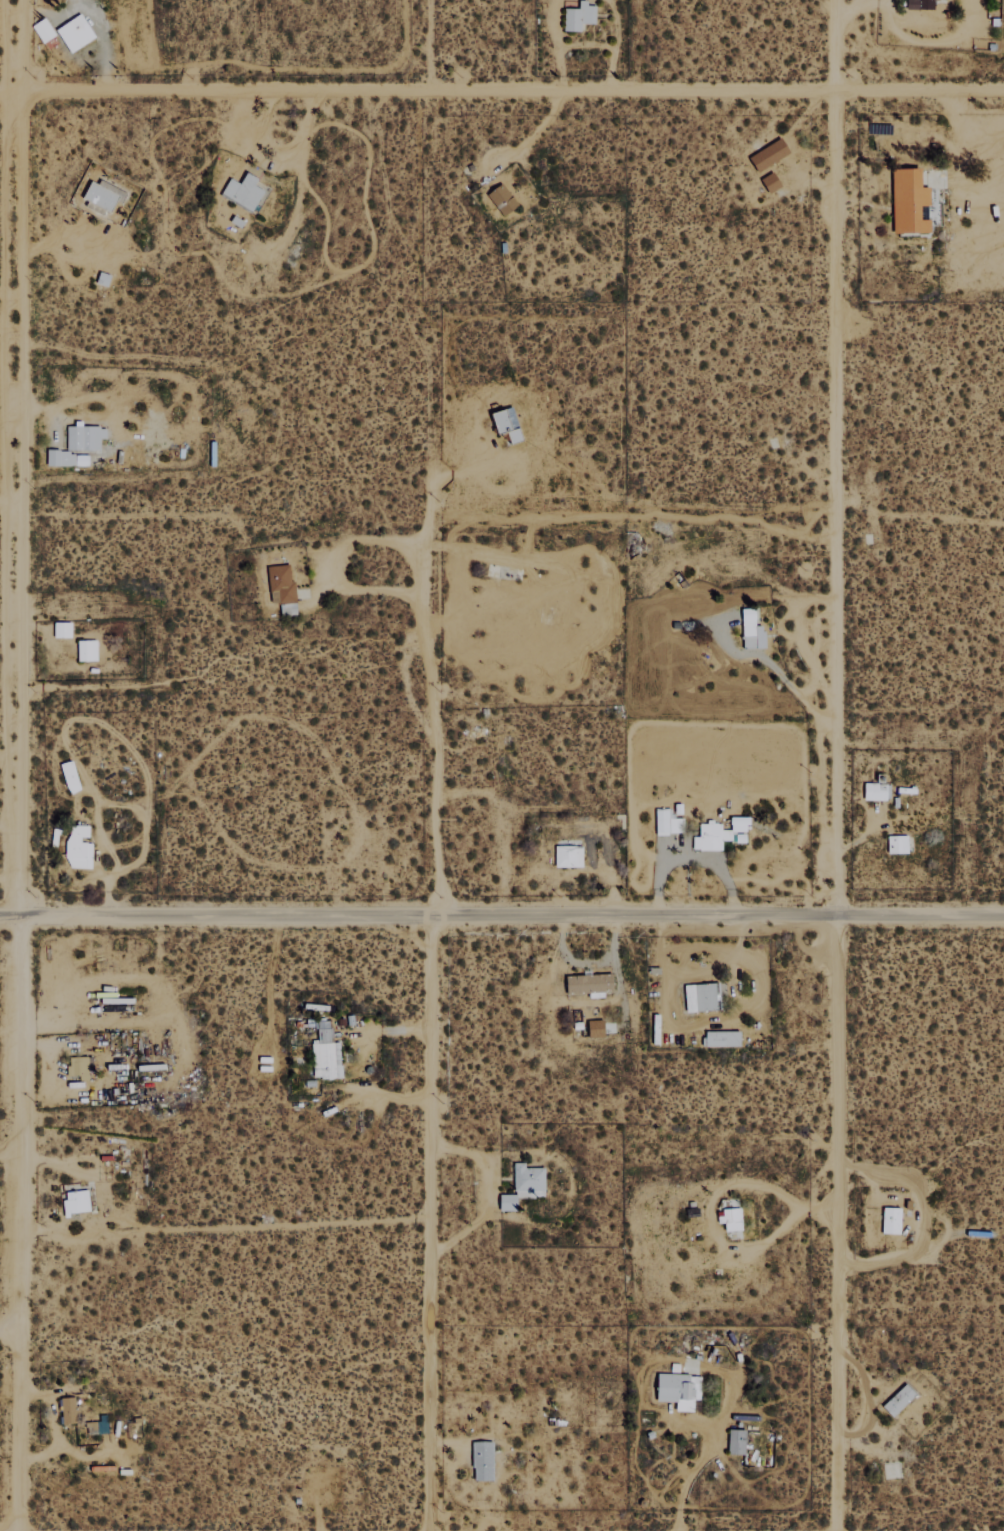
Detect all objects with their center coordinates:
building: (917, 4)
building: (581, 16)
building: (45, 30)
building: (77, 33)
road: (505, 91)
road: (3, 97)
building: (766, 155)
building: (245, 192)
building: (103, 196)
building: (504, 200)
building: (906, 201)
building: (79, 446)
road: (12, 457)
road: (834, 457)
building: (284, 589)
building: (65, 629)
building: (749, 630)
building: (90, 650)
road: (436, 719)
building: (73, 776)
building: (874, 791)
building: (668, 823)
building: (718, 833)
building: (894, 844)
building: (80, 847)
building: (571, 856)
road: (502, 915)
building: (703, 997)
building: (327, 1053)
building: (79, 1067)
building: (526, 1186)
road: (485, 1194)
building: (78, 1201)
building: (733, 1219)
building: (888, 1220)
road: (429, 1222)
road: (16, 1223)
road: (832, 1223)
building: (683, 1391)
building: (896, 1400)
building: (70, 1410)
building: (738, 1441)
building: (486, 1464)

